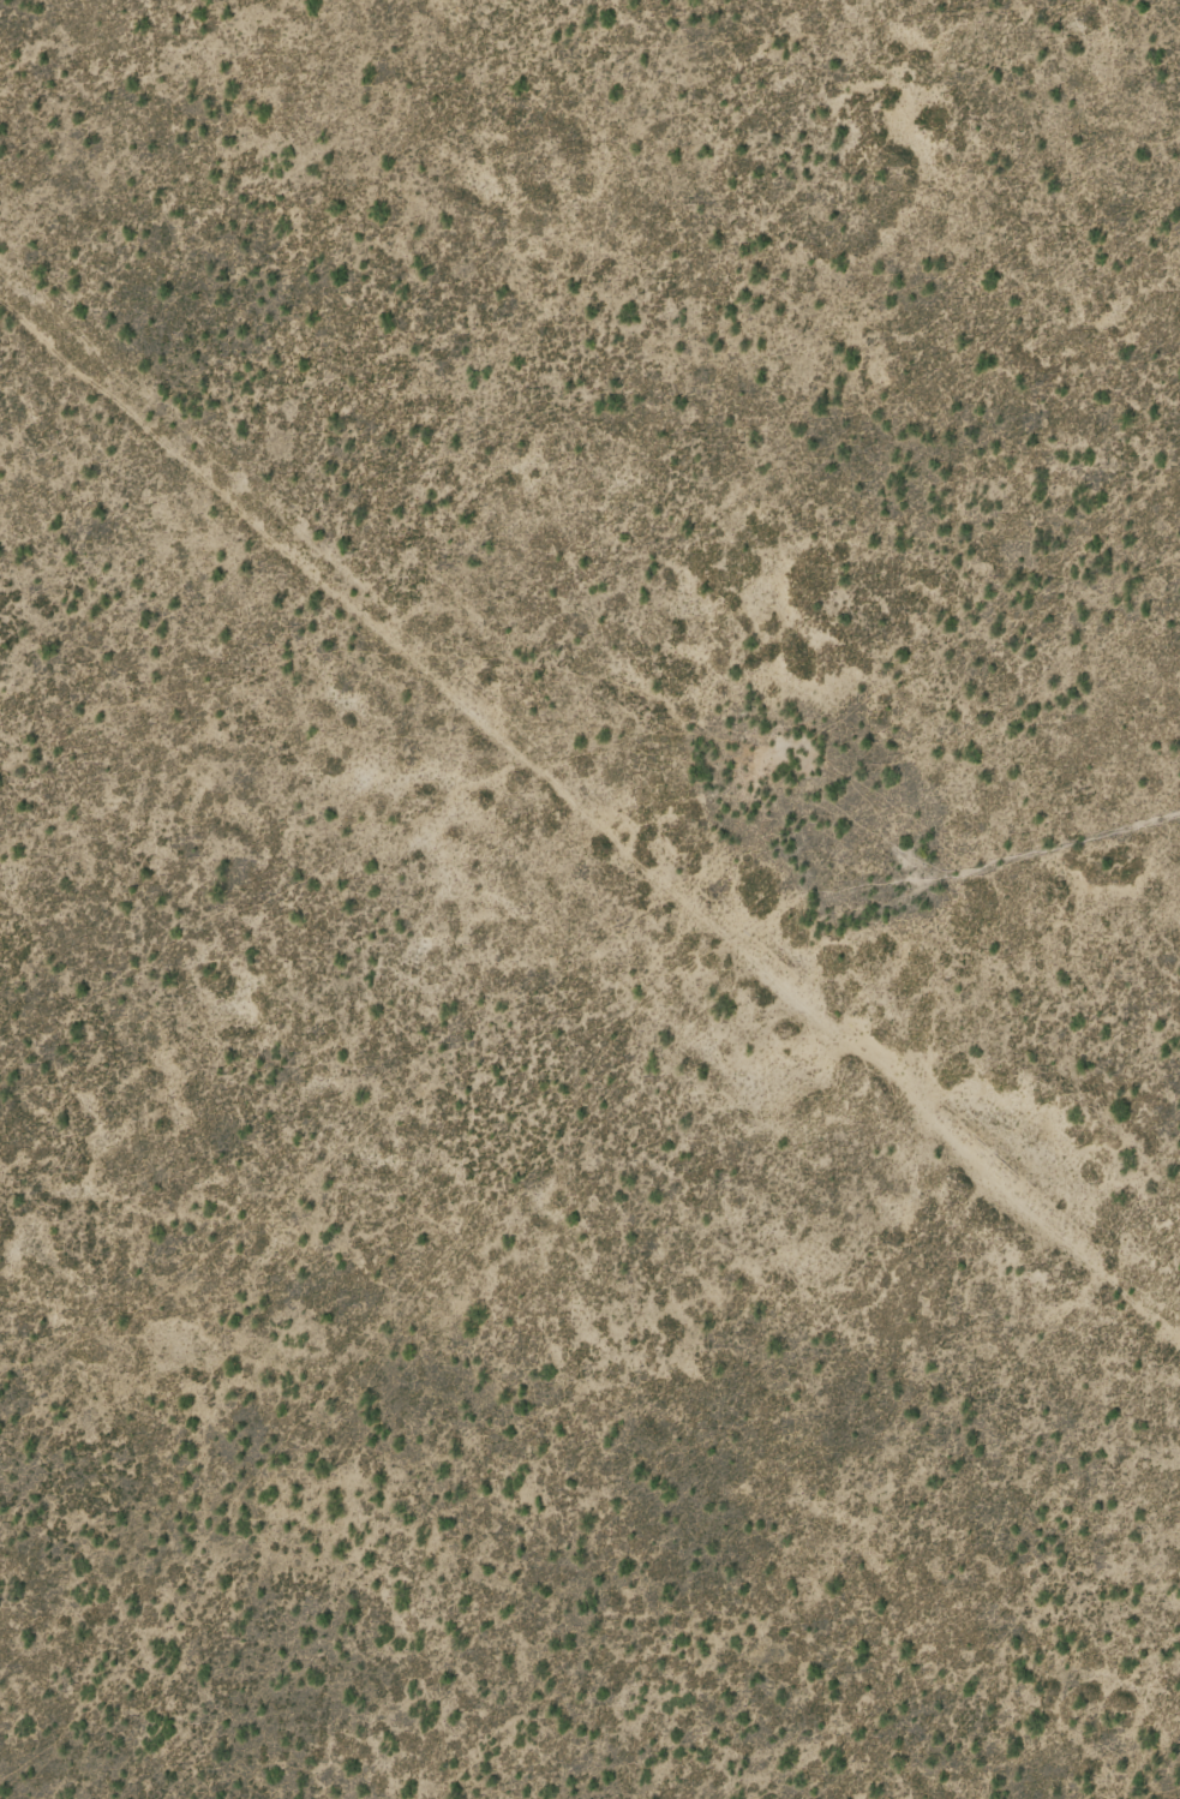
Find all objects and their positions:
road: (1068, 843)

